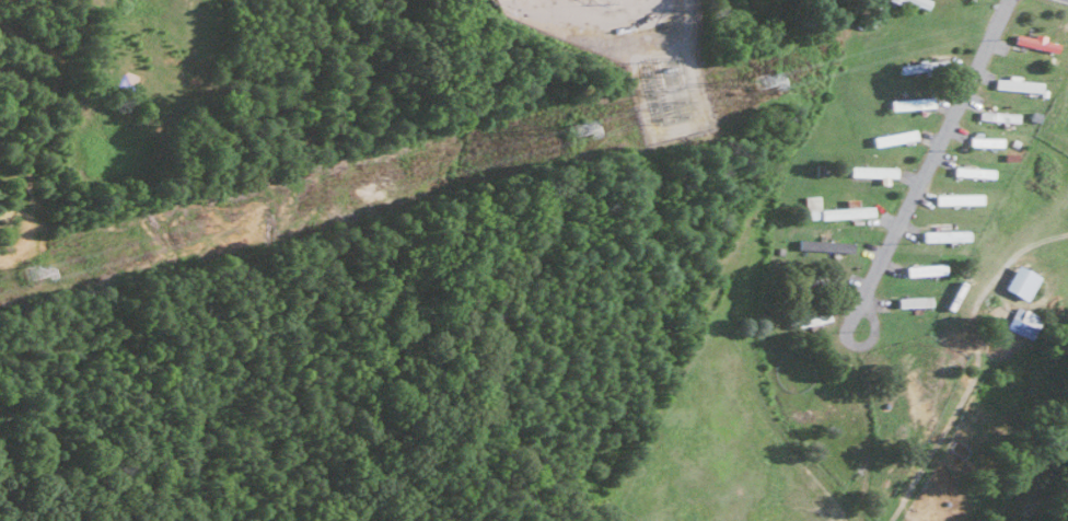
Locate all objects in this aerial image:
building: (914, 3)
building: (868, 14)
building: (1032, 42)
power substation: (636, 51)
building: (912, 67)
power tower: (759, 79)
building: (1014, 84)
power tower: (674, 101)
building: (908, 103)
building: (996, 116)
power tower: (577, 127)
building: (891, 137)
building: (984, 140)
road: (921, 170)
building: (870, 171)
building: (971, 172)
building: (955, 198)
building: (834, 208)
building: (942, 234)
building: (824, 244)
building: (922, 268)
power tower: (28, 273)
building: (1017, 280)
building: (912, 300)
building: (1019, 321)

